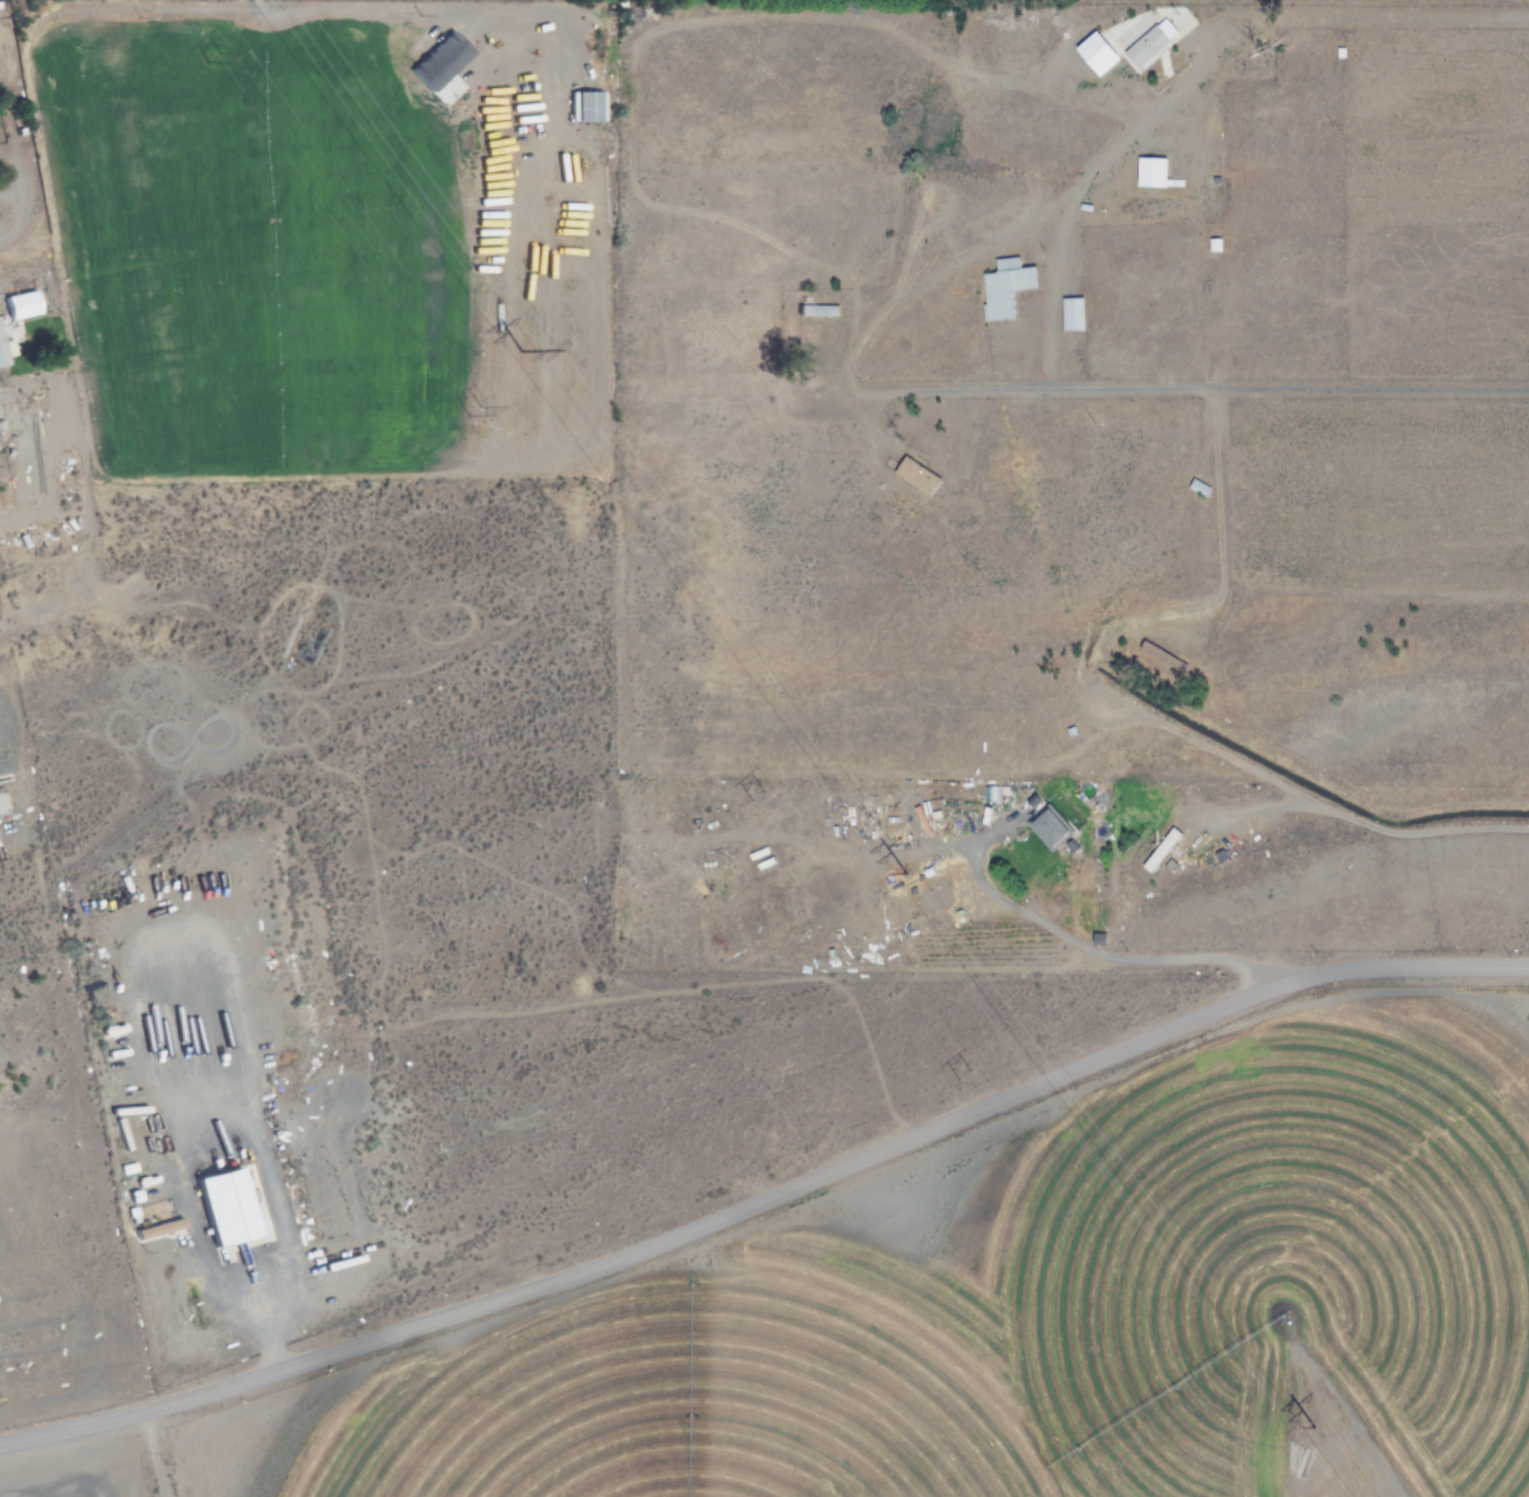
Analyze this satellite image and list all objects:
building: (1141, 40)
power tower: (218, 57)
building: (1150, 172)
crop: (336, 250)
building: (1002, 285)
building: (20, 305)
building: (816, 311)
building: (1076, 313)
building: (1160, 342)
building: (0, 348)
power tower: (518, 352)
road: (1268, 385)
power tower: (478, 409)
building: (916, 477)
building: (1198, 488)
road: (1223, 507)
building: (1162, 658)
road: (1277, 794)
power tower: (756, 795)
building: (1160, 850)
power tower: (893, 873)
road: (1031, 897)
road: (1163, 961)
power tower: (976, 1071)
road: (768, 1201)
power tower: (1310, 1429)

